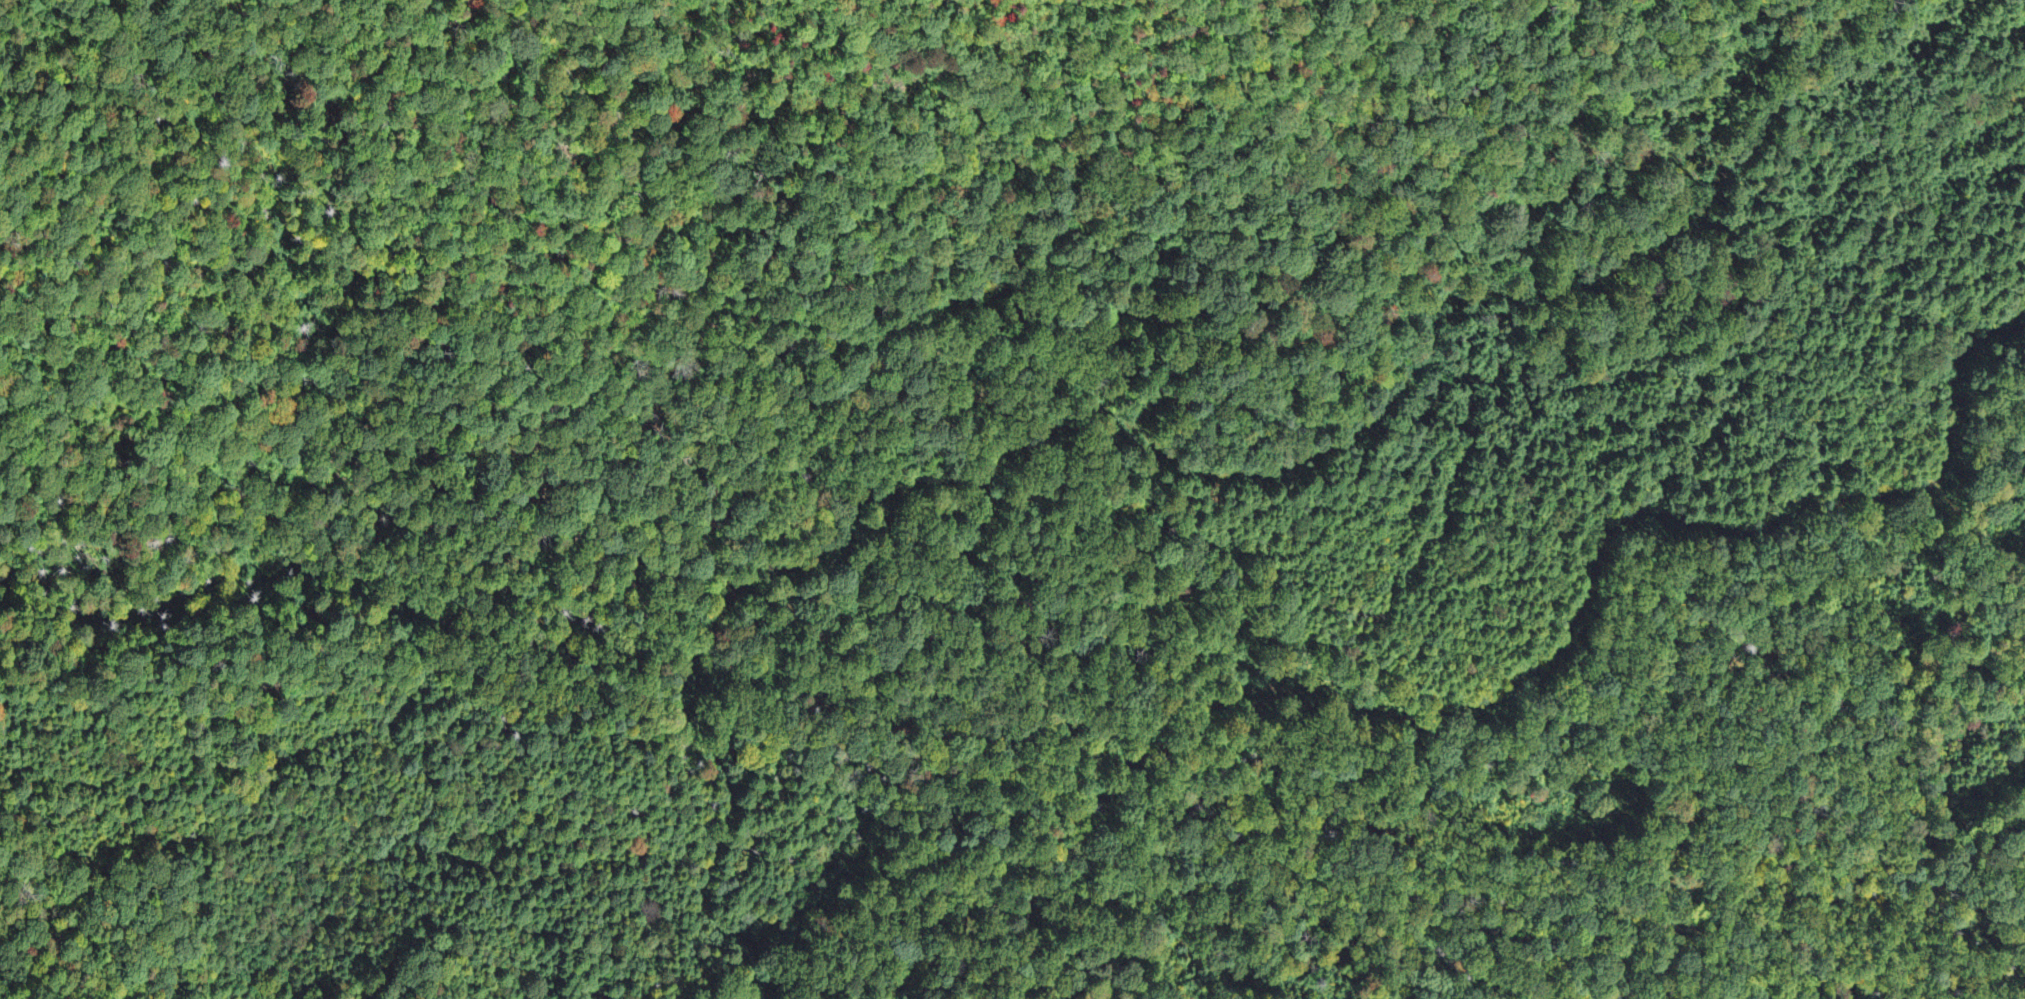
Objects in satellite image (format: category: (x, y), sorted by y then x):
road: (1955, 382)
road: (1179, 462)
road: (1449, 700)
road: (1052, 958)
road: (1247, 971)

